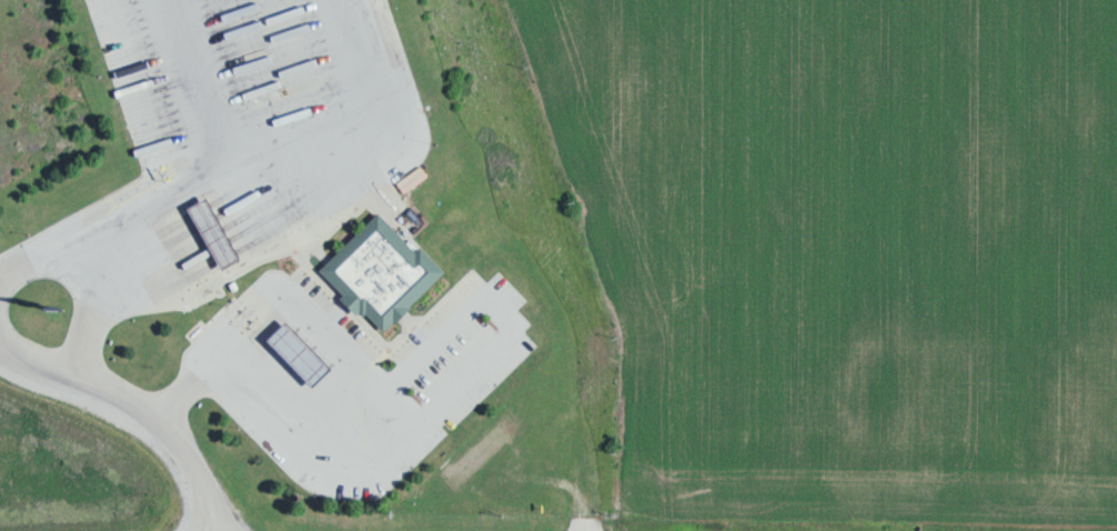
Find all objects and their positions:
road: (114, 218)
building: (207, 230)
building: (376, 269)
building: (291, 351)
road: (229, 384)
road: (135, 410)

